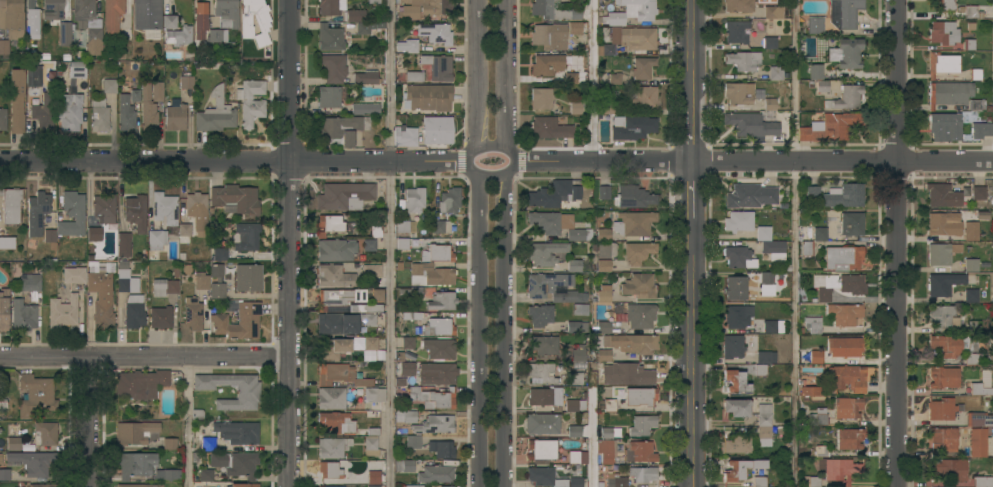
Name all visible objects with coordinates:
building: (373, 1)
building: (944, 4)
building: (738, 5)
building: (431, 6)
building: (328, 7)
building: (54, 8)
building: (554, 10)
building: (83, 11)
building: (971, 11)
building: (632, 12)
building: (772, 12)
building: (845, 12)
building: (226, 13)
building: (408, 13)
building: (112, 15)
building: (354, 15)
building: (148, 16)
building: (200, 19)
building: (32, 20)
building: (169, 21)
building: (262, 23)
building: (11, 24)
building: (815, 24)
building: (369, 27)
building: (575, 27)
building: (736, 31)
building: (943, 32)
building: (65, 33)
building: (430, 33)
building: (179, 35)
building: (215, 35)
building: (549, 35)
building: (330, 37)
building: (638, 38)
building: (94, 41)
building: (769, 42)
building: (968, 44)
building: (407, 45)
building: (608, 49)
road: (692, 52)
building: (846, 53)
building: (743, 60)
building: (942, 63)
building: (547, 64)
building: (333, 67)
building: (438, 67)
building: (642, 67)
building: (815, 71)
building: (776, 73)
building: (33, 74)
building: (975, 74)
building: (413, 76)
building: (366, 77)
building: (571, 77)
building: (614, 78)
road: (595, 81)
building: (186, 82)
building: (110, 86)
building: (822, 86)
building: (157, 91)
building: (738, 92)
building: (949, 93)
building: (135, 95)
building: (329, 96)
building: (429, 96)
building: (646, 96)
building: (846, 97)
building: (541, 98)
building: (71, 99)
building: (16, 101)
building: (251, 101)
building: (769, 104)
building: (977, 105)
building: (609, 107)
building: (364, 108)
building: (576, 108)
building: (148, 109)
building: (44, 111)
building: (126, 113)
building: (216, 113)
building: (99, 115)
building: (175, 115)
building: (2, 118)
building: (750, 124)
building: (830, 126)
building: (945, 126)
building: (549, 127)
building: (633, 127)
building: (342, 129)
building: (436, 129)
building: (981, 130)
road: (693, 133)
building: (405, 136)
road: (496, 163)
building: (601, 192)
building: (812, 193)
building: (978, 193)
building: (554, 194)
building: (750, 195)
building: (844, 195)
building: (940, 195)
building: (344, 196)
building: (633, 196)
road: (692, 198)
building: (235, 199)
building: (414, 199)
building: (449, 200)
building: (11, 205)
building: (165, 208)
building: (197, 209)
building: (37, 212)
building: (136, 213)
building: (72, 214)
building: (982, 214)
building: (101, 216)
building: (545, 221)
building: (739, 221)
building: (331, 222)
building: (942, 222)
building: (634, 223)
building: (852, 223)
building: (402, 226)
building: (440, 226)
building: (184, 229)
building: (376, 230)
building: (412, 230)
building: (971, 230)
building: (819, 233)
building: (321, 234)
building: (575, 234)
building: (603, 234)
building: (245, 236)
building: (50, 238)
building: (157, 239)
building: (7, 243)
road: (292, 243)
road: (392, 243)
building: (402, 243)
road: (482, 243)
road: (502, 243)
road: (797, 243)
road: (899, 243)
building: (123, 244)
building: (770, 244)
building: (369, 245)
building: (806, 247)
building: (335, 249)
building: (605, 249)
building: (638, 252)
building: (437, 253)
building: (544, 253)
building: (220, 254)
building: (938, 254)
building: (738, 257)
building: (843, 257)
building: (971, 264)
building: (574, 265)
building: (603, 265)
building: (400, 266)
building: (373, 269)
building: (74, 274)
building: (429, 274)
building: (334, 275)
building: (248, 277)
building: (201, 280)
building: (126, 281)
building: (216, 281)
building: (30, 282)
building: (766, 283)
building: (943, 284)
building: (639, 285)
building: (837, 285)
building: (164, 286)
building: (552, 287)
building: (736, 287)
building: (411, 291)
road: (912, 292)
building: (603, 293)
building: (377, 294)
building: (971, 296)
building: (101, 298)
building: (442, 301)
building: (4, 309)
building: (580, 309)
building: (23, 310)
building: (63, 310)
building: (344, 310)
building: (192, 313)
building: (844, 313)
building: (134, 314)
building: (412, 315)
building: (540, 315)
building: (640, 315)
building: (738, 315)
building: (940, 316)
building: (160, 317)
building: (811, 319)
building: (238, 320)
building: (438, 326)
building: (608, 326)
building: (773, 326)
building: (577, 327)
building: (356, 343)
building: (370, 343)
building: (408, 343)
building: (632, 343)
building: (544, 344)
building: (958, 345)
building: (844, 347)
building: (334, 348)
building: (438, 349)
building: (736, 350)
building: (578, 354)
building: (410, 355)
building: (602, 355)
road: (145, 356)
building: (399, 356)
building: (816, 356)
building: (763, 357)
road: (692, 361)
building: (407, 368)
building: (760, 370)
building: (437, 373)
building: (541, 373)
building: (340, 374)
building: (626, 374)
building: (943, 376)
building: (848, 377)
building: (575, 378)
building: (735, 381)
building: (400, 382)
building: (140, 383)
building: (980, 389)
building: (810, 390)
building: (248, 394)
building: (36, 395)
building: (546, 397)
building: (631, 397)
building: (334, 398)
building: (375, 398)
building: (435, 398)
building: (3, 404)
building: (571, 405)
building: (581, 405)
building: (737, 407)
building: (847, 407)
building: (943, 408)
building: (405, 415)
building: (818, 417)
building: (978, 419)
building: (339, 420)
road: (88, 421)
building: (764, 421)
road: (189, 422)
building: (435, 423)
building: (542, 423)
building: (642, 425)
building: (13, 429)
building: (574, 431)
building: (135, 432)
building: (237, 432)
building: (373, 432)
building: (609, 432)
building: (45, 433)
road: (595, 437)
building: (849, 438)
building: (943, 438)
building: (413, 441)
building: (978, 442)
building: (13, 443)
building: (169, 443)
building: (206, 443)
building: (735, 444)
building: (371, 445)
building: (333, 446)
building: (441, 448)
building: (542, 449)
building: (606, 450)
building: (640, 451)
building: (818, 451)
building: (577, 456)
building: (1, 458)
building: (33, 462)
building: (236, 463)
building: (404, 465)
building: (144, 467)
building: (741, 468)
building: (950, 468)
building: (329, 469)
building: (838, 469)
building: (435, 473)
building: (643, 473)
building: (4, 474)
building: (206, 475)
building: (543, 476)
building: (373, 477)
building: (619, 480)
building: (759, 481)
building: (814, 481)
building: (983, 481)
building: (575, 482)
building: (42, 485)
building: (139, 485)
building: (244, 485)
building: (373, 485)
building: (331, 486)
building: (414, 486)
building: (447, 486)

